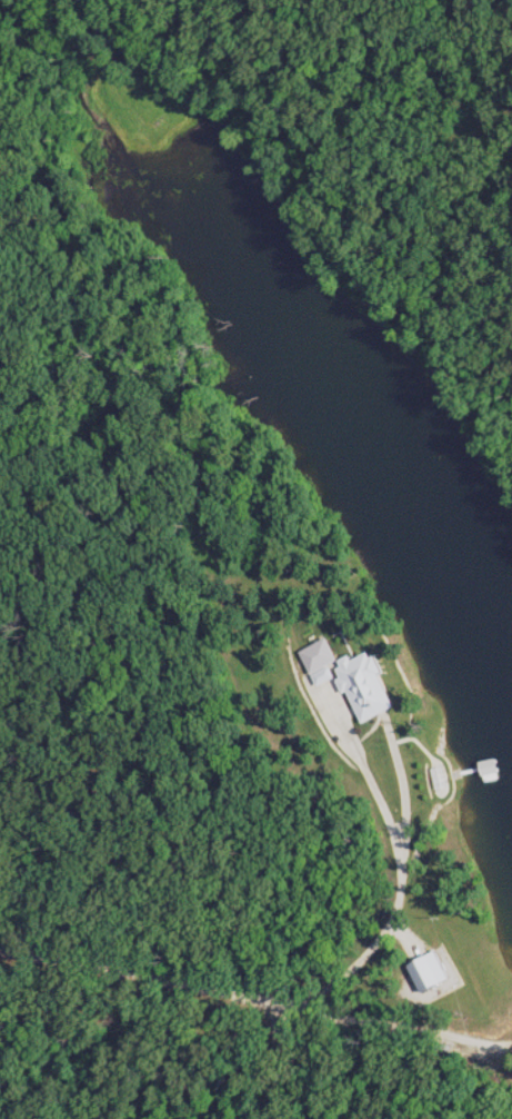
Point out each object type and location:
building: (505, 770)
road: (255, 999)

